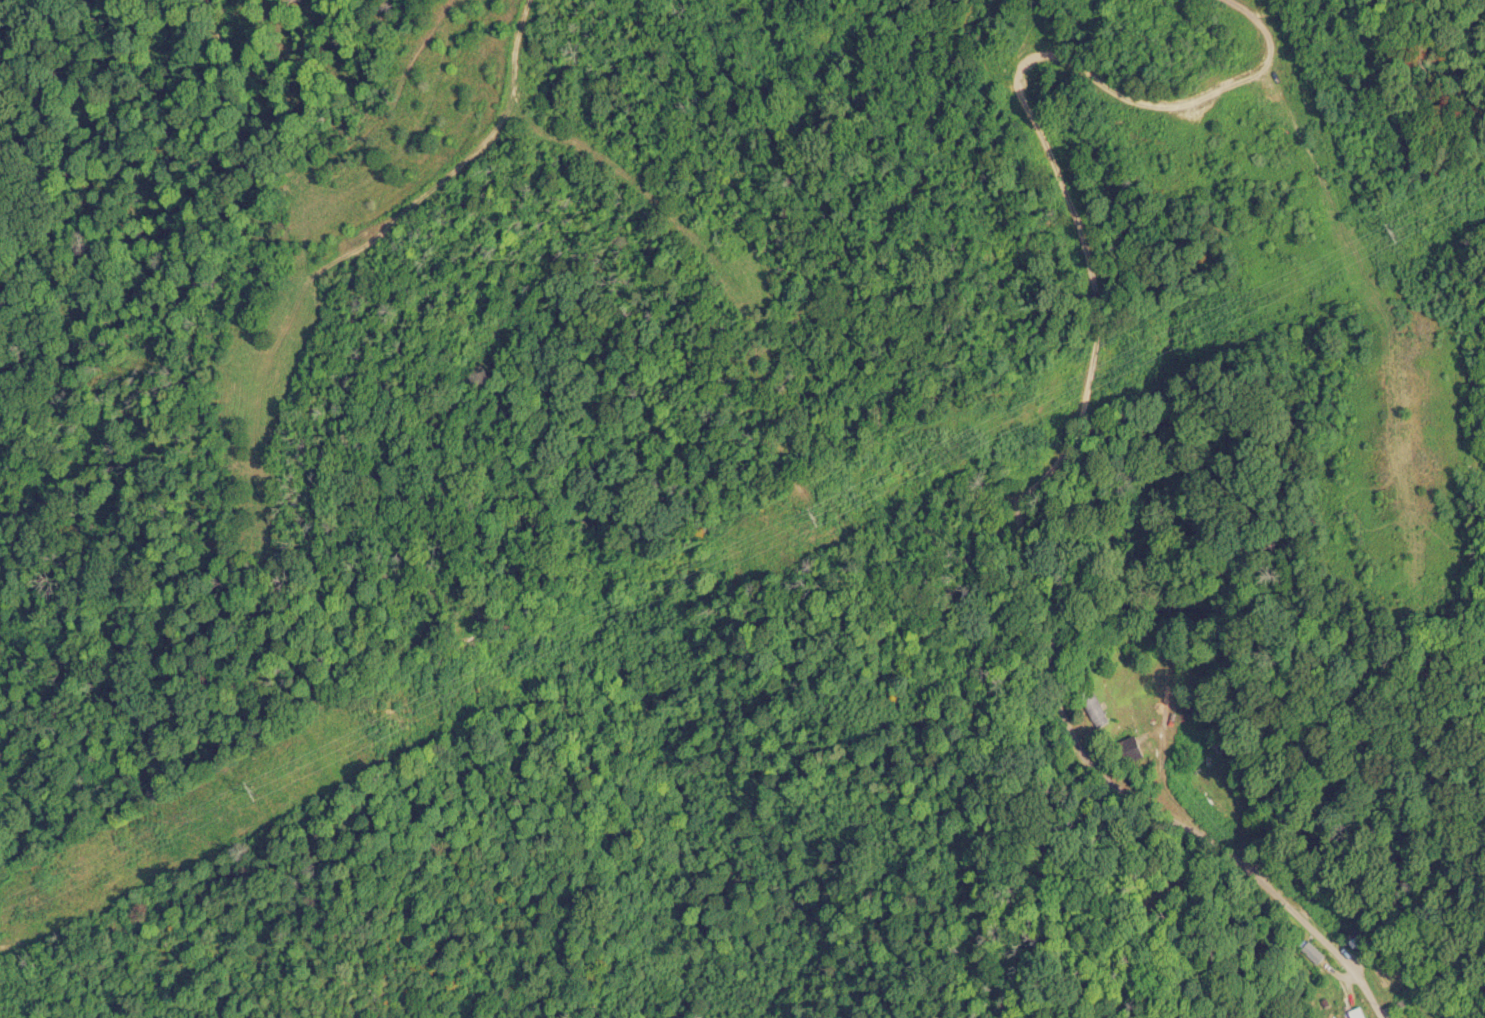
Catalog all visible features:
power tower: (1419, 223)
road: (1023, 486)
power tower: (839, 515)
power tower: (259, 790)
building: (1394, 1011)
building: (1420, 1017)

